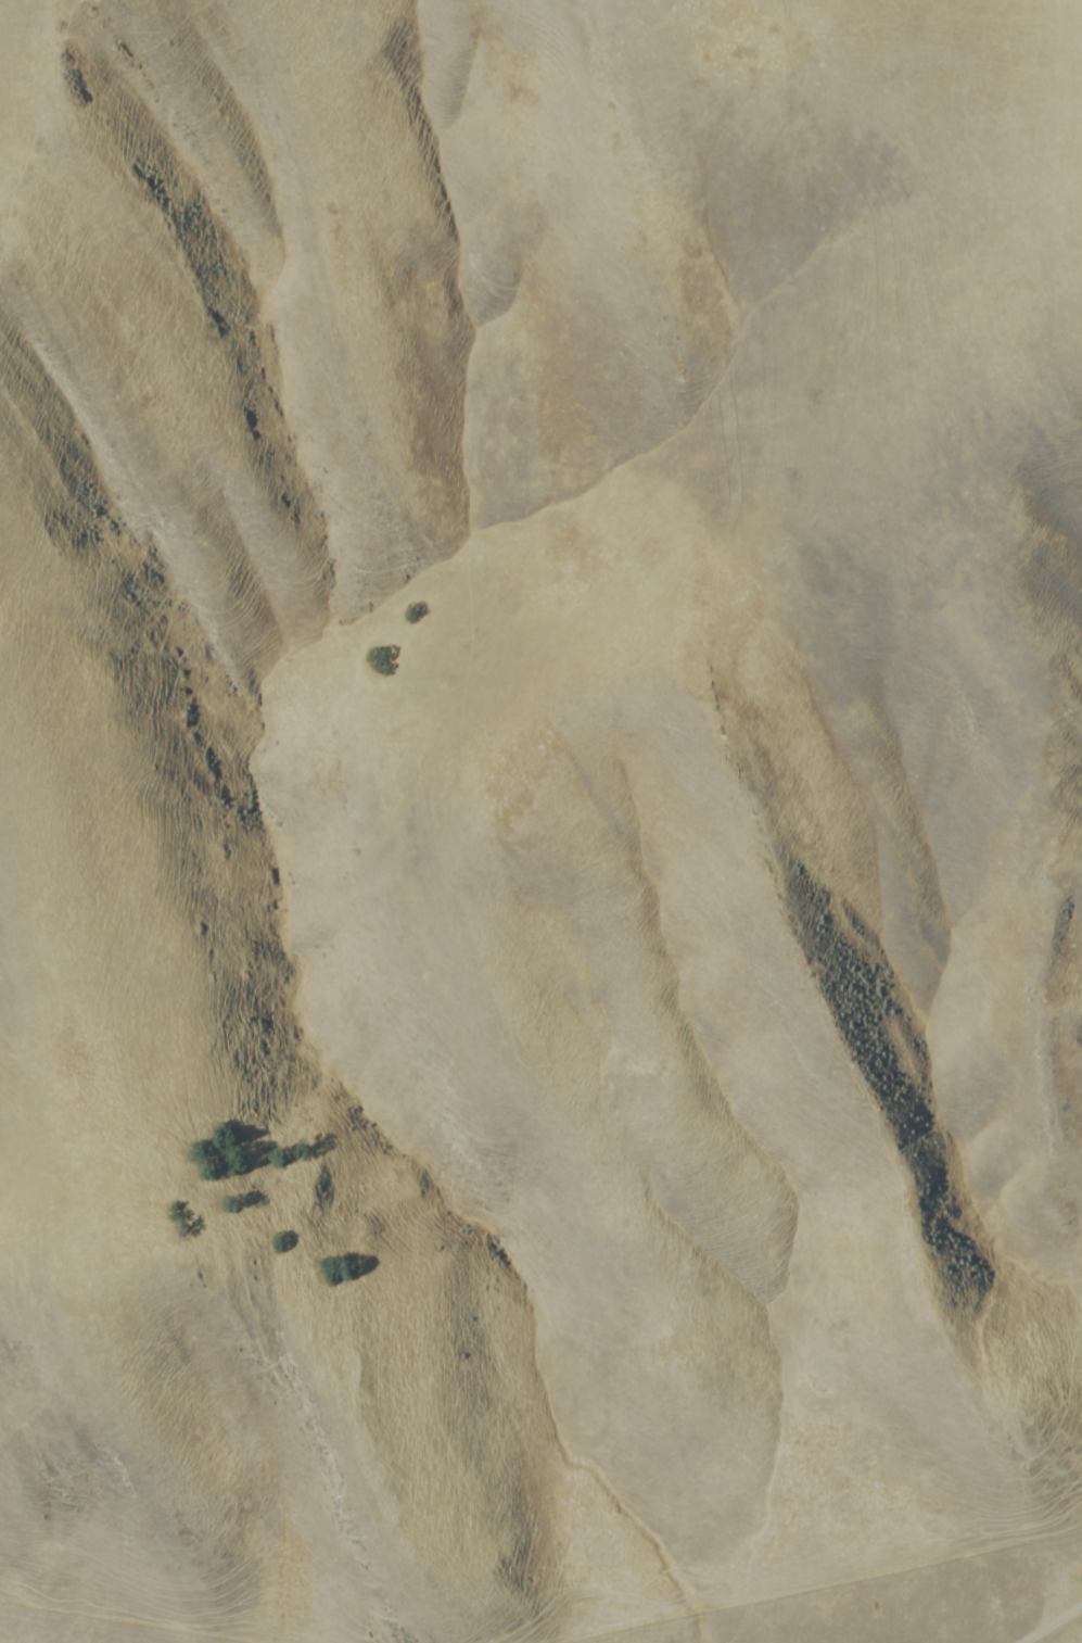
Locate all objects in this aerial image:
road: (540, 1413)

